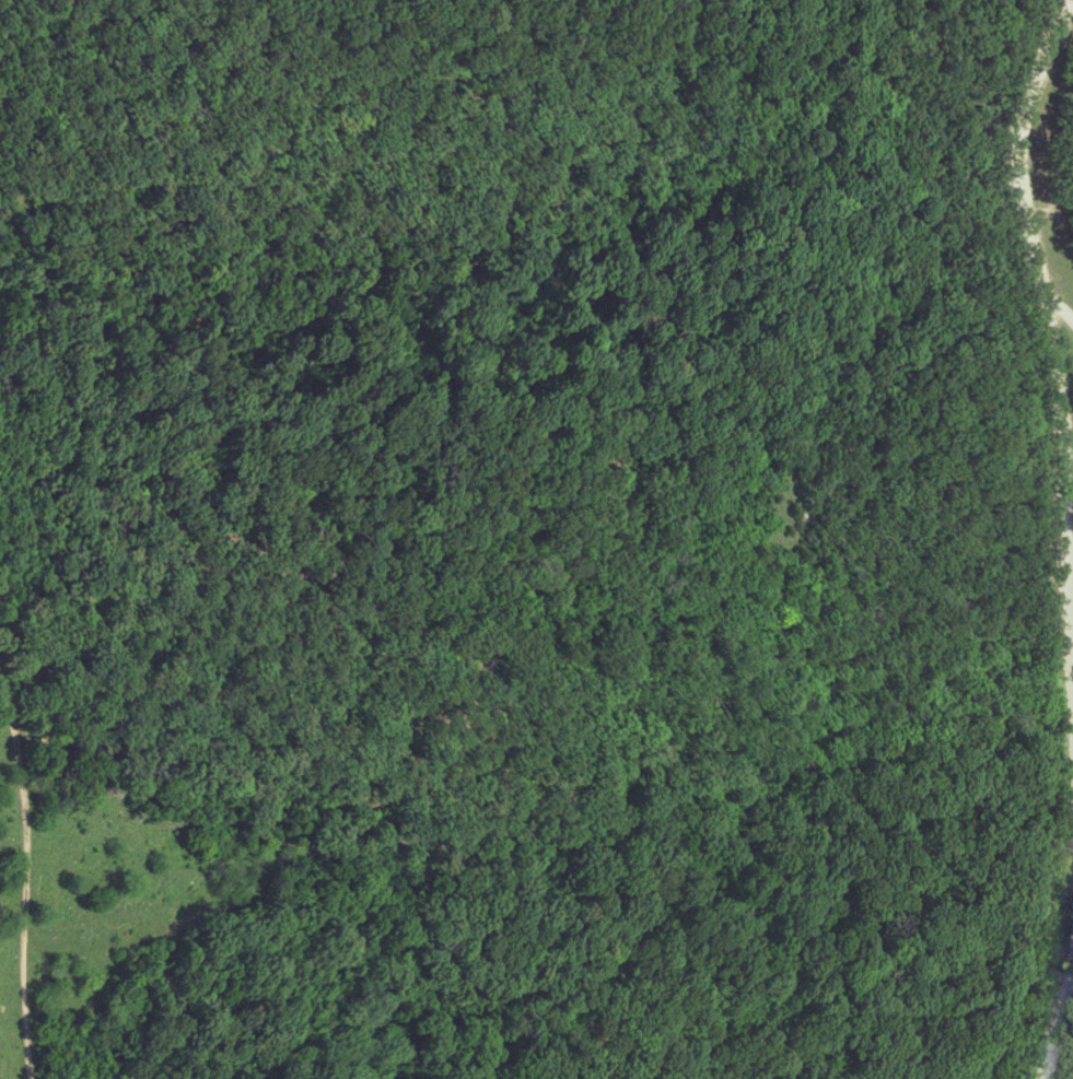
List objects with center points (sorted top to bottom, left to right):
road: (987, 315)
road: (1029, 338)
road: (1069, 1067)

